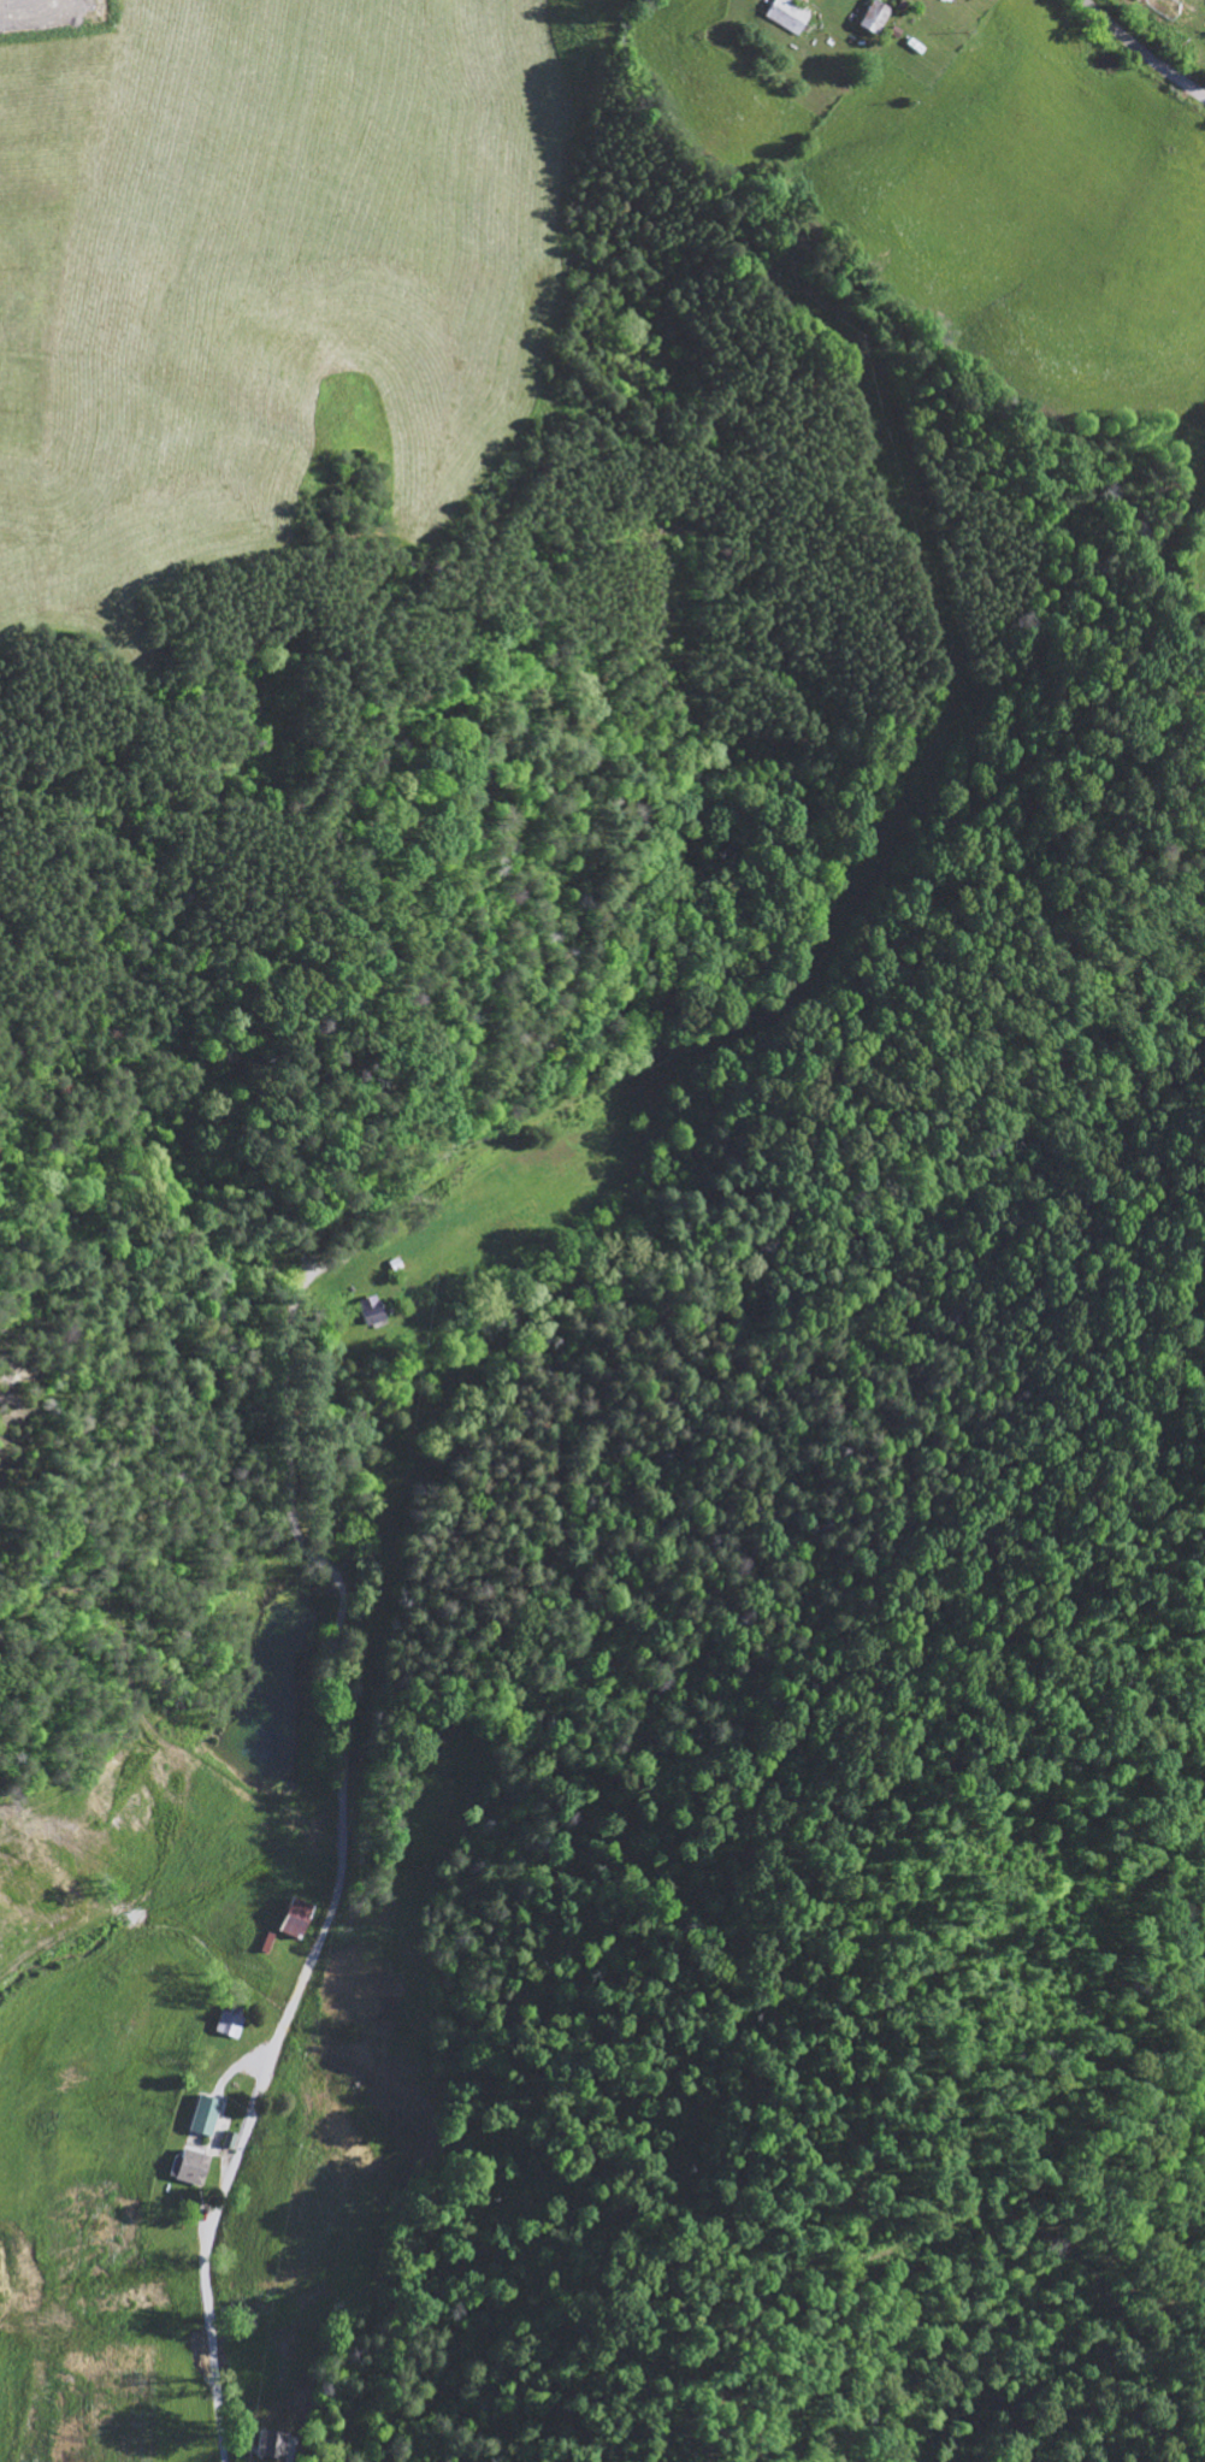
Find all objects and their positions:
building: (1147, 0)
building: (791, 16)
building: (879, 16)
road: (1142, 51)
road: (359, 1223)
building: (373, 1310)
building: (300, 1918)
building: (270, 1941)
building: (231, 2024)
building: (206, 2114)
building: (191, 2167)
building: (274, 2444)

